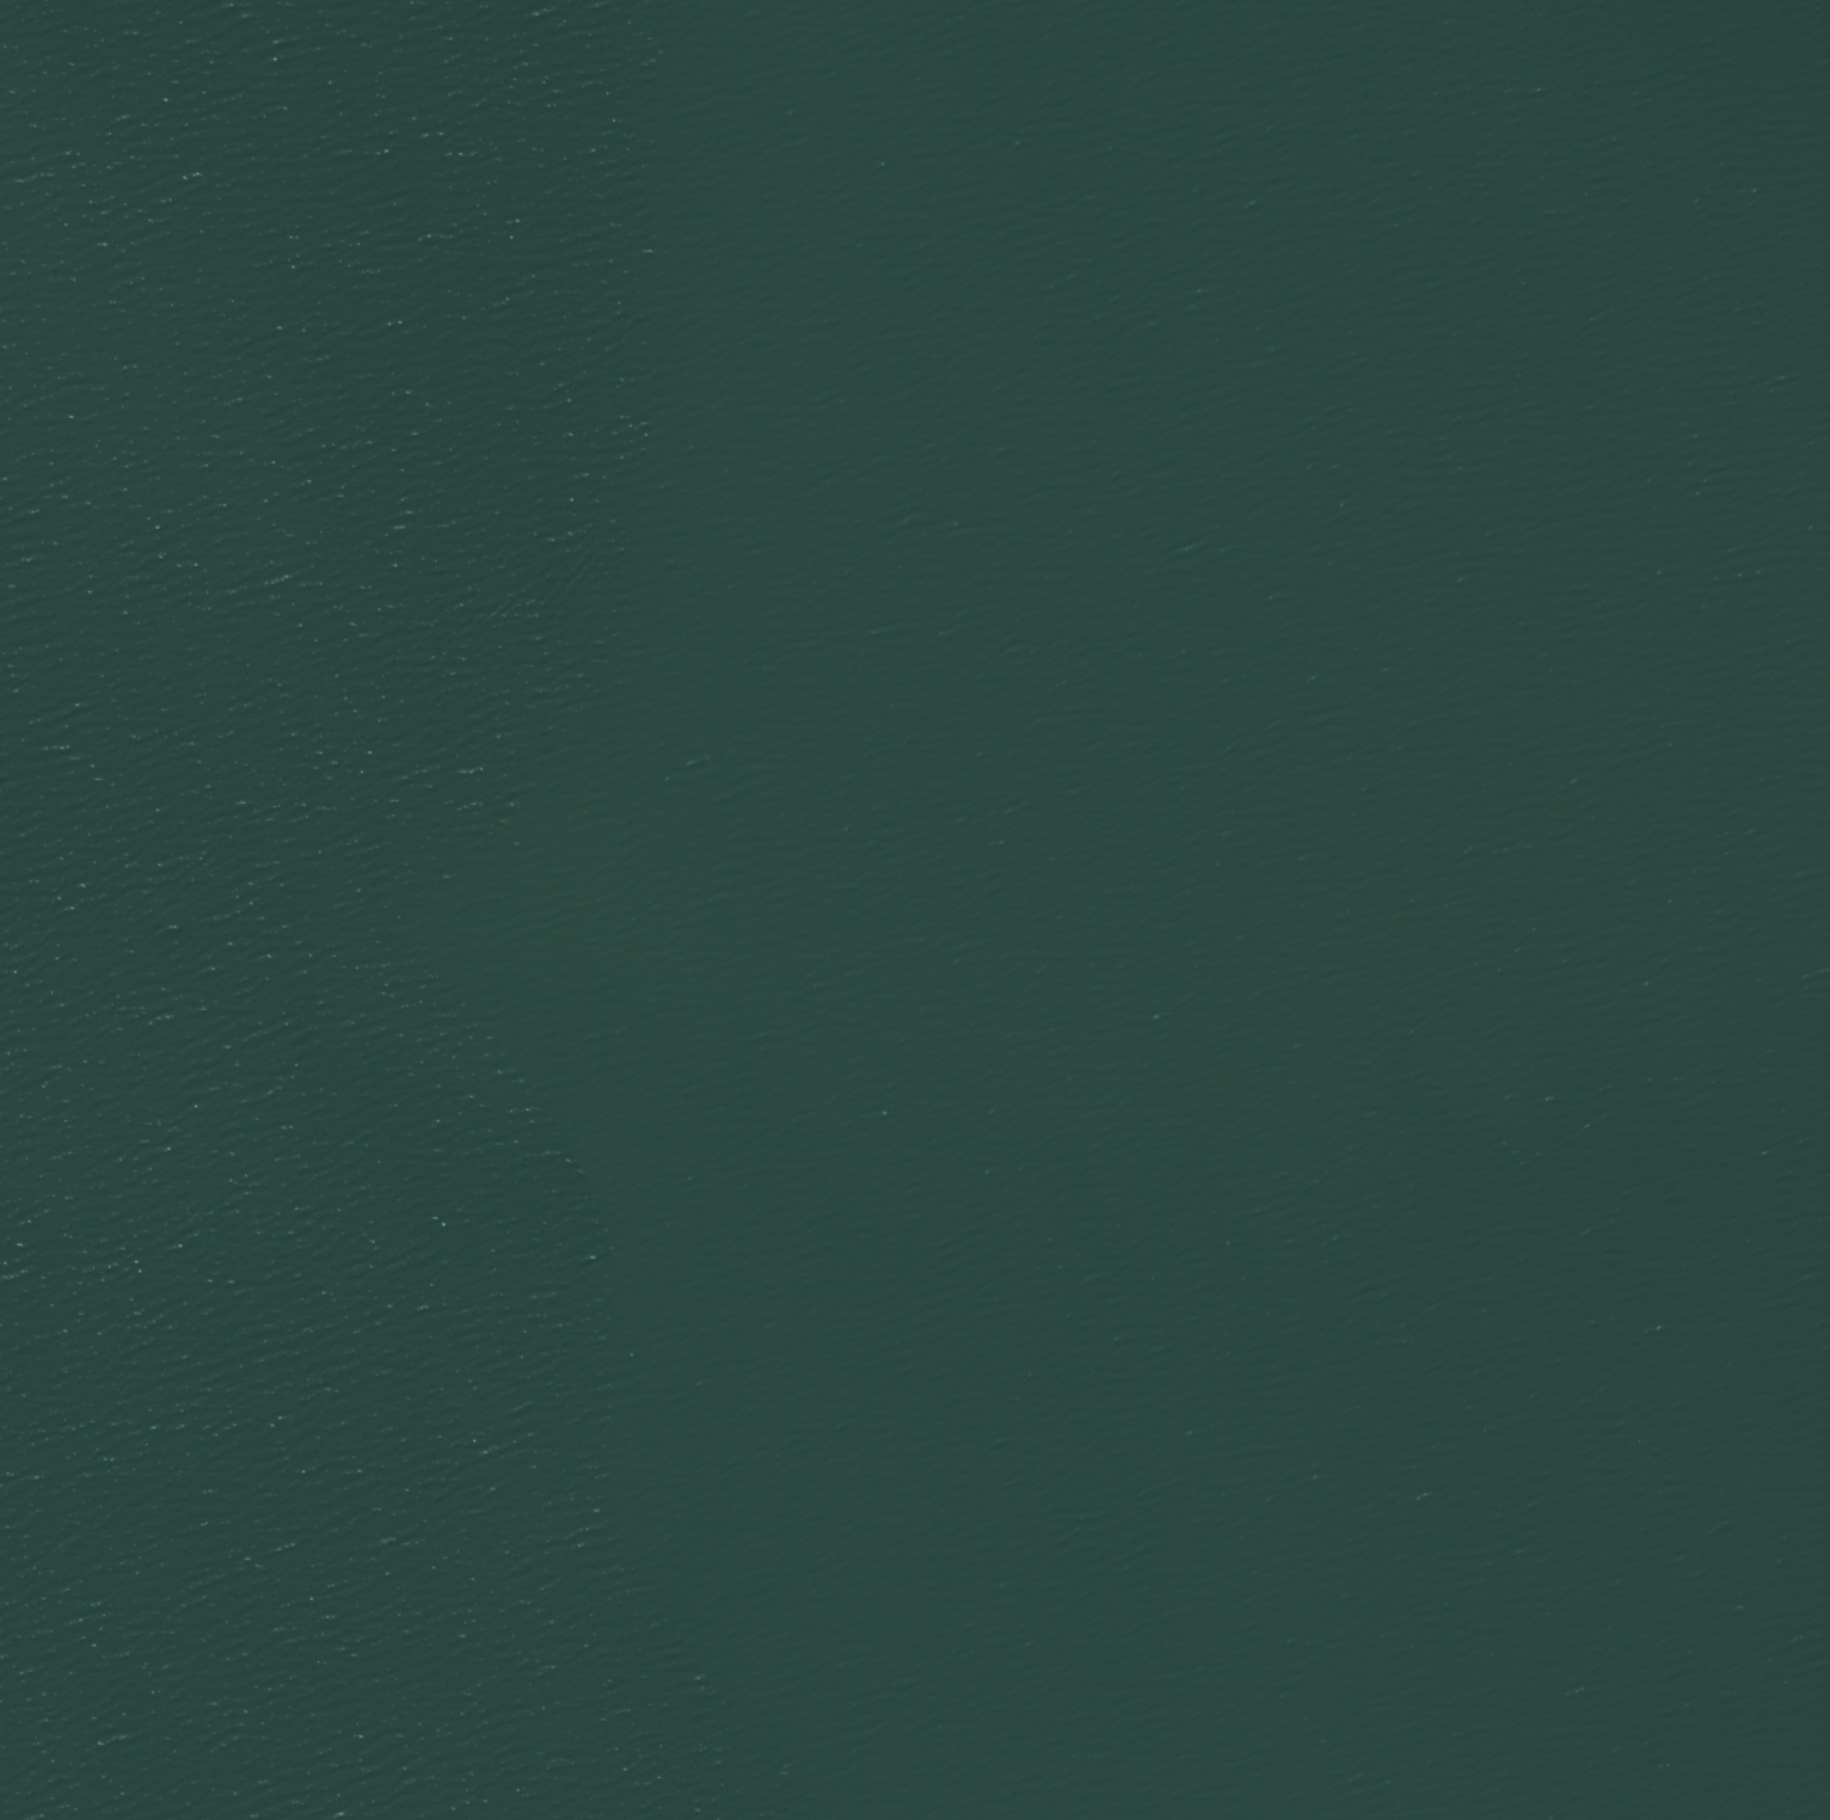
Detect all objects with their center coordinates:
river: (915, 1322)

